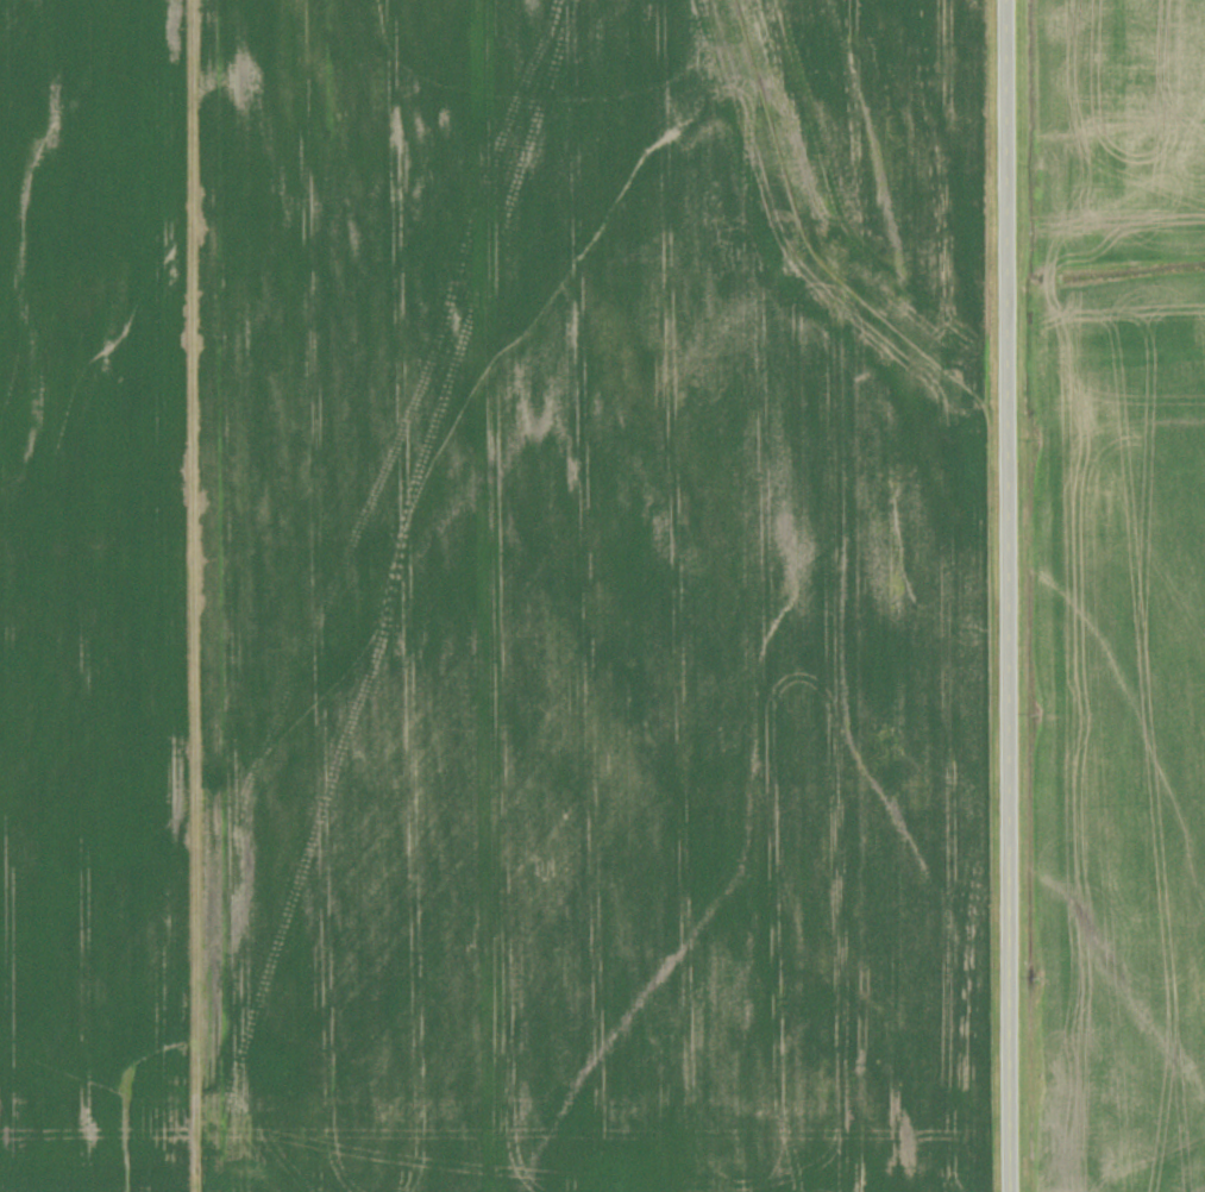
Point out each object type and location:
road: (1010, 596)

